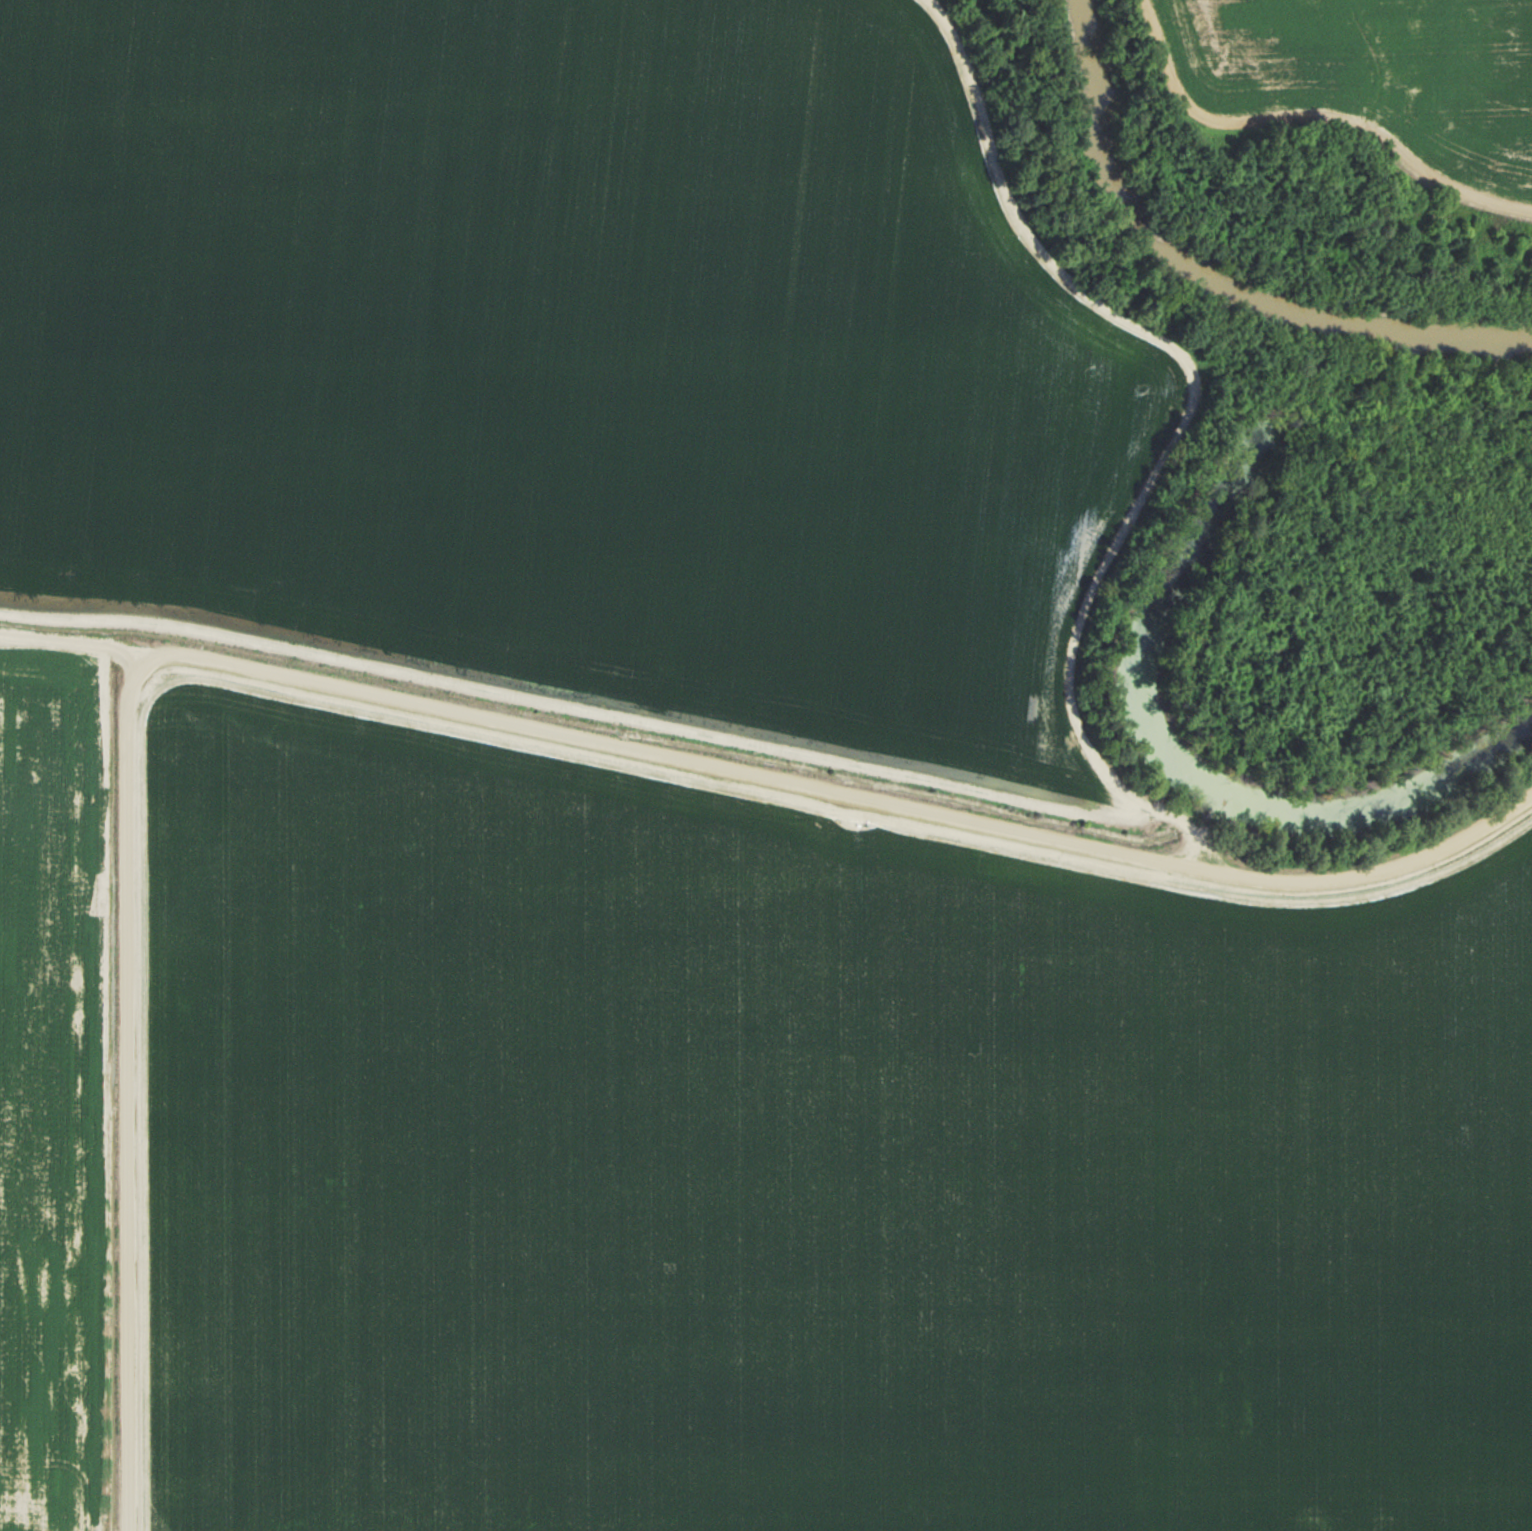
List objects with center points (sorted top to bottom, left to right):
road: (420, 705)

